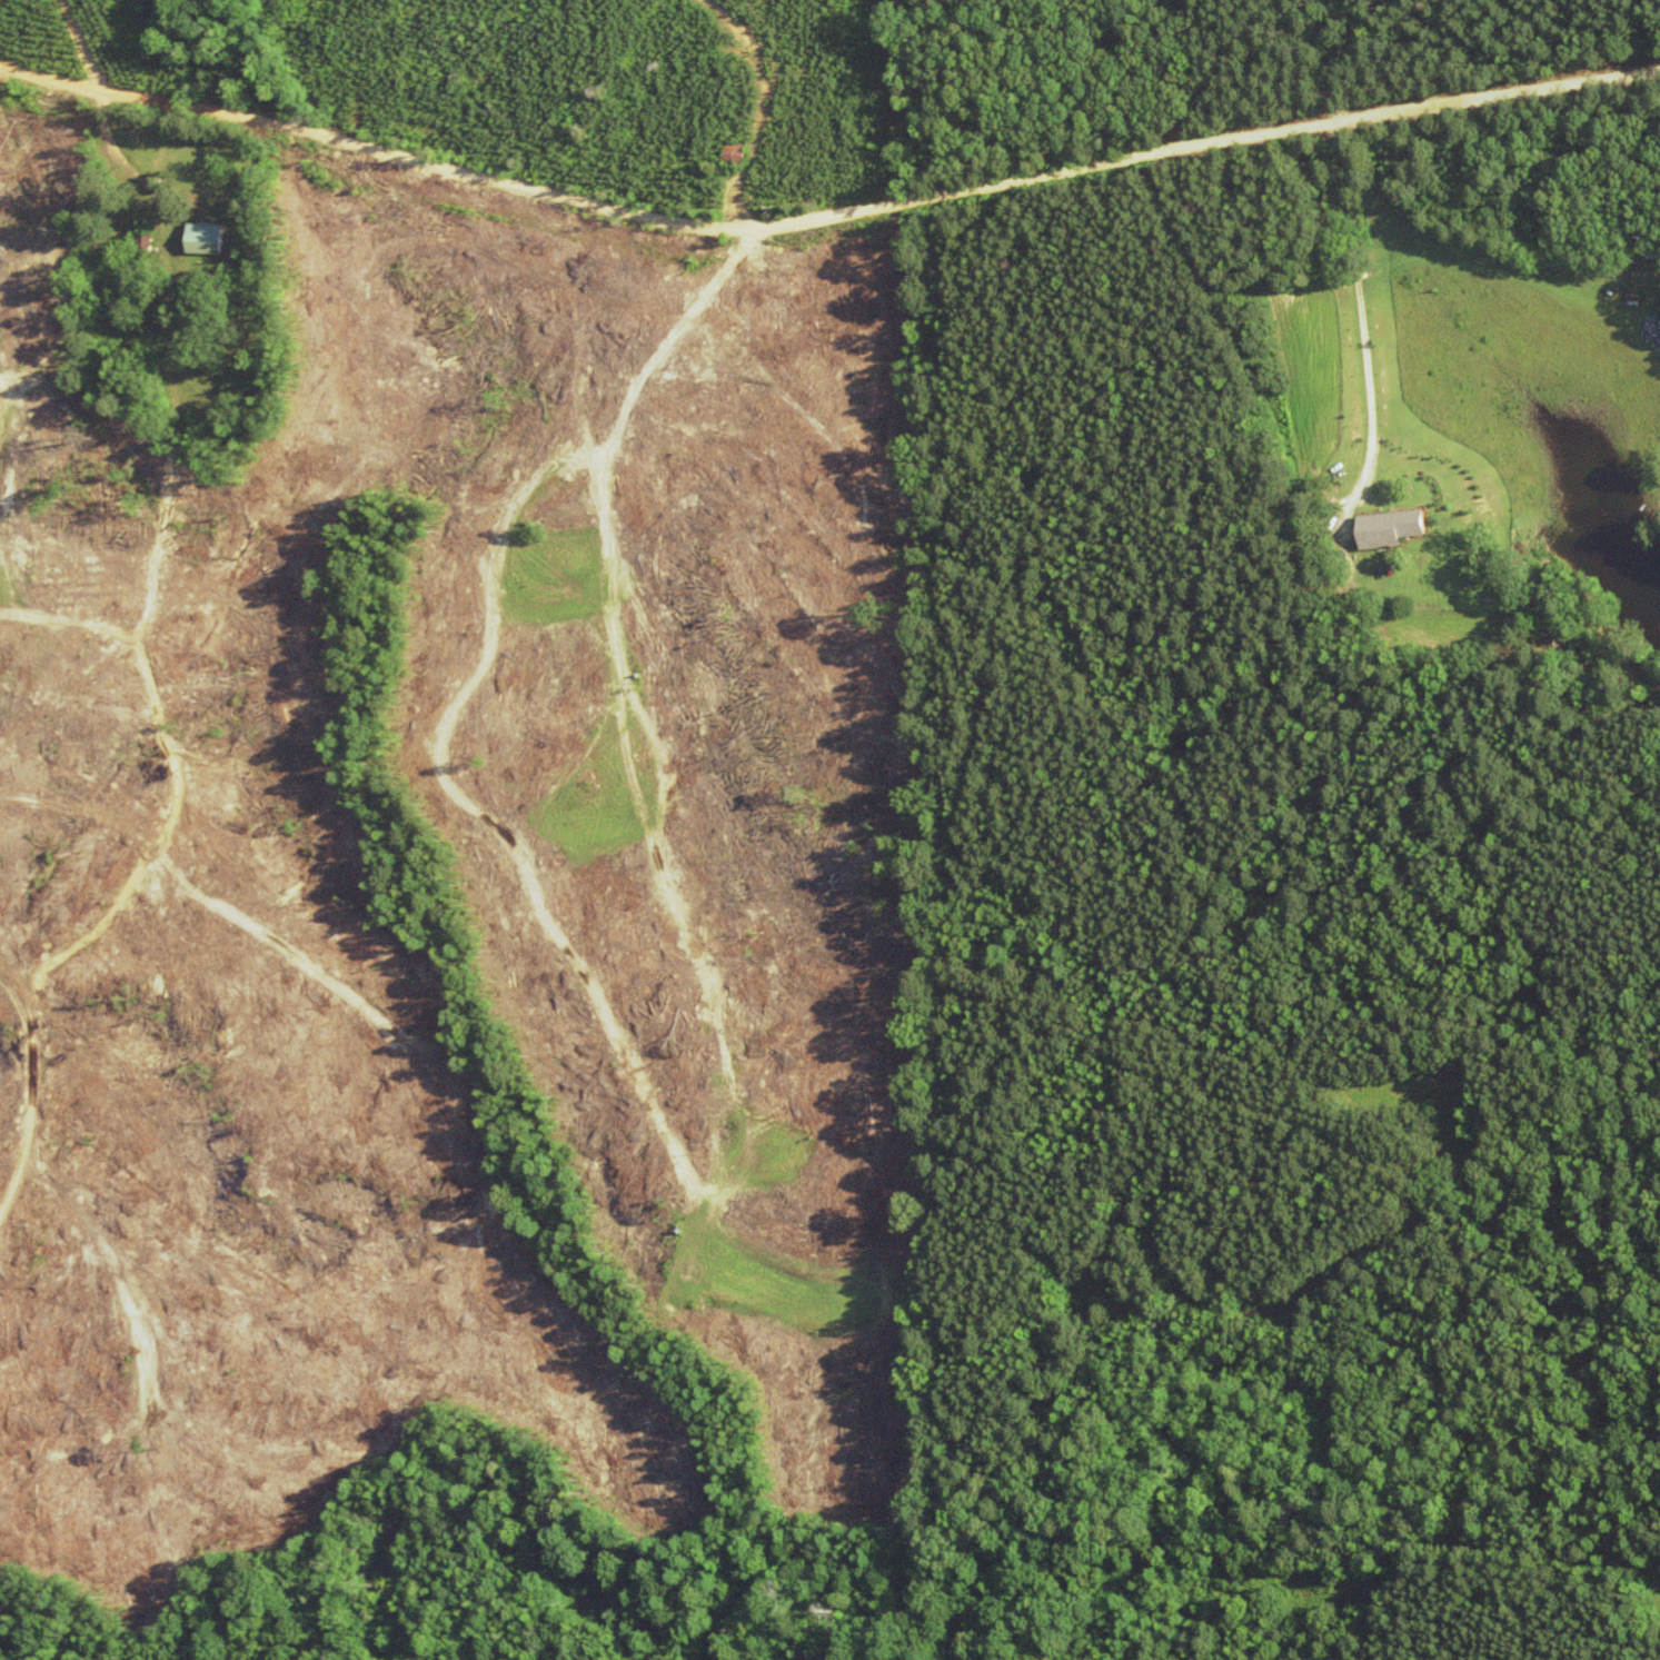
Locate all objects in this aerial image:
road: (826, 217)
road: (1370, 310)

